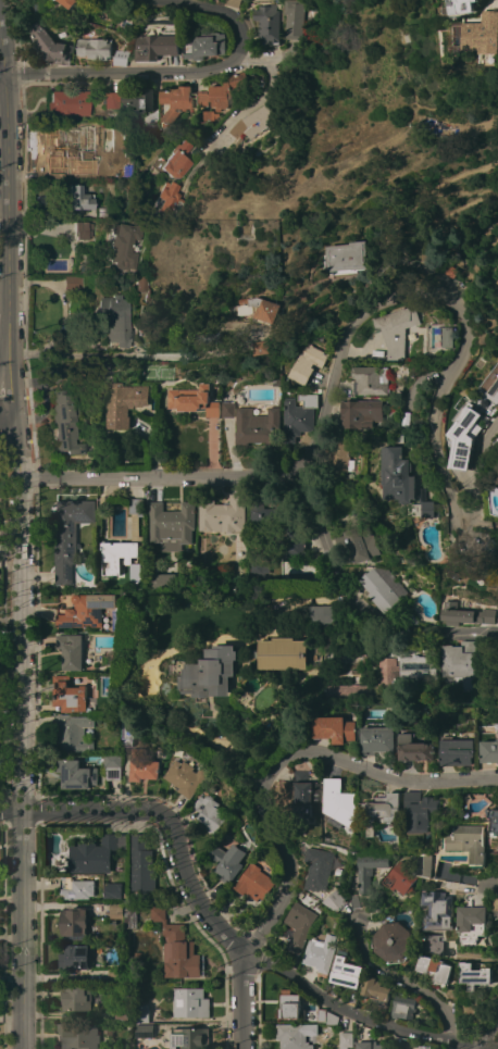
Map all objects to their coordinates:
building: (73, 2)
building: (232, 2)
building: (460, 5)
building: (49, 14)
building: (292, 18)
building: (266, 23)
building: (482, 34)
building: (51, 45)
building: (155, 46)
building: (203, 46)
building: (94, 48)
building: (120, 57)
road: (265, 57)
road: (1, 72)
road: (188, 72)
building: (220, 91)
building: (138, 98)
building: (108, 99)
building: (69, 102)
building: (176, 102)
road: (241, 112)
building: (208, 115)
building: (253, 122)
building: (75, 148)
building: (174, 160)
building: (125, 165)
building: (79, 198)
building: (166, 200)
road: (5, 226)
building: (82, 229)
building: (124, 245)
building: (346, 257)
building: (448, 270)
building: (72, 282)
building: (141, 287)
road: (63, 304)
building: (259, 309)
building: (116, 319)
building: (395, 329)
building: (446, 337)
building: (261, 347)
road: (338, 349)
road: (110, 355)
road: (4, 360)
building: (307, 363)
park: (155, 372)
building: (370, 379)
building: (275, 382)
building: (490, 391)
building: (192, 400)
building: (122, 402)
road: (4, 407)
building: (227, 408)
building: (361, 413)
building: (298, 415)
building: (65, 422)
building: (257, 426)
building: (465, 434)
building: (337, 454)
road: (474, 467)
building: (398, 475)
building: (497, 480)
building: (101, 500)
building: (421, 509)
building: (263, 511)
building: (222, 514)
building: (171, 525)
building: (69, 534)
building: (294, 539)
building: (358, 541)
building: (125, 546)
building: (491, 546)
building: (259, 562)
building: (287, 571)
building: (163, 582)
building: (379, 587)
road: (347, 595)
building: (276, 605)
building: (86, 610)
building: (320, 614)
building: (464, 614)
building: (411, 619)
building: (70, 650)
building: (282, 653)
building: (459, 663)
building: (415, 671)
building: (387, 672)
building: (210, 675)
building: (70, 695)
road: (20, 725)
building: (334, 728)
building: (73, 733)
building: (127, 733)
building: (376, 740)
building: (489, 750)
building: (415, 751)
building: (457, 751)
road: (285, 755)
building: (112, 765)
building: (142, 769)
building: (75, 774)
building: (184, 777)
building: (308, 798)
building: (338, 801)
building: (420, 810)
building: (383, 811)
building: (208, 812)
building: (494, 820)
building: (470, 842)
building: (95, 854)
building: (226, 861)
building: (141, 864)
building: (431, 864)
building: (318, 869)
building: (371, 869)
building: (402, 877)
building: (253, 882)
road: (494, 884)
building: (76, 888)
building: (113, 890)
building: (125, 897)
building: (335, 900)
building: (125, 903)
building: (496, 904)
building: (438, 907)
building: (115, 909)
building: (129, 916)
building: (74, 922)
building: (473, 923)
building: (298, 925)
road: (219, 927)
building: (393, 940)
building: (432, 942)
building: (177, 948)
building: (320, 952)
building: (136, 956)
building: (72, 959)
building: (434, 967)
building: (346, 969)
building: (114, 974)
building: (473, 975)
road: (399, 982)
building: (375, 990)
building: (75, 997)
building: (351, 997)
road: (244, 998)
building: (189, 1002)
building: (288, 1004)
building: (402, 1007)
building: (122, 1012)
building: (140, 1013)
building: (318, 1015)
building: (331, 1017)
building: (144, 1031)
road: (482, 1033)
building: (77, 1036)
building: (294, 1036)
building: (189, 1037)
building: (346, 1039)
building: (369, 1045)
building: (422, 1047)
building: (115, 1048)
building: (343, 1048)
road: (464, 1048)

